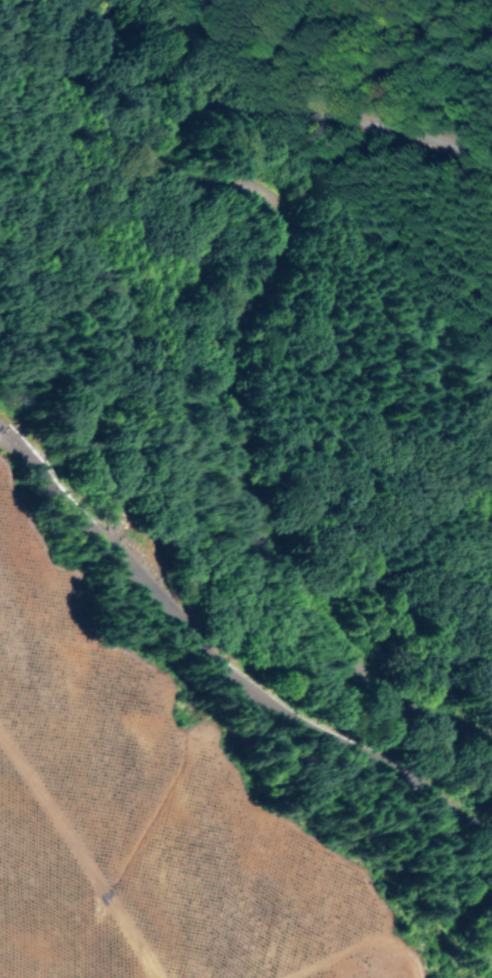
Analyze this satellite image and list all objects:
road: (268, 287)
road: (227, 663)

